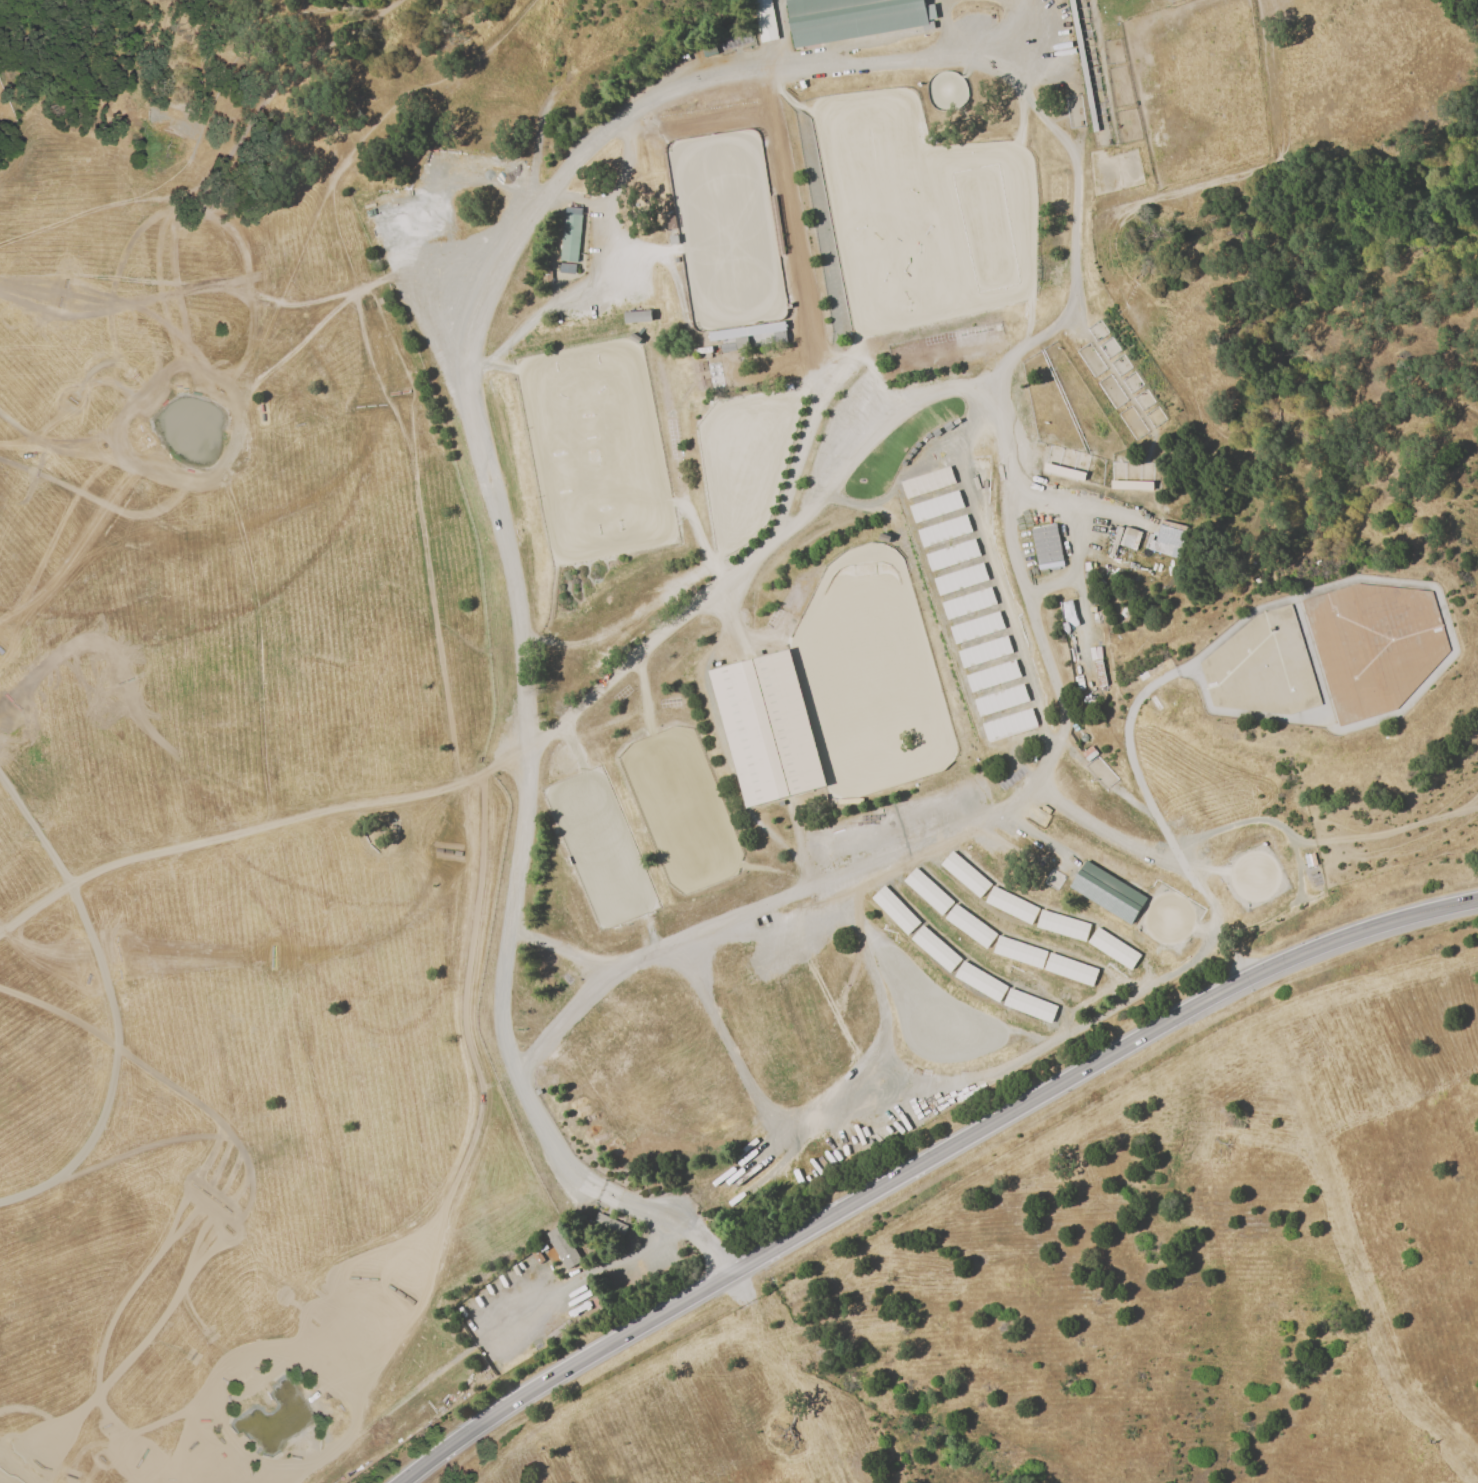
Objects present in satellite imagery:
building: (823, 5)
building: (794, 7)
building: (786, 9)
building: (861, 20)
building: (763, 21)
building: (801, 27)
road: (1001, 32)
building: (801, 37)
building: (1081, 65)
building: (672, 69)
building: (584, 135)
building: (689, 135)
road: (582, 196)
building: (400, 210)
building: (408, 231)
building: (669, 233)
building: (827, 237)
building: (570, 240)
building: (830, 263)
building: (566, 270)
road: (596, 274)
building: (808, 277)
building: (814, 313)
building: (634, 318)
building: (745, 333)
building: (632, 339)
building: (726, 349)
building: (703, 352)
building: (881, 411)
building: (874, 416)
building: (869, 422)
building: (673, 446)
building: (1131, 484)
building: (928, 486)
road: (1060, 504)
building: (935, 508)
building: (941, 530)
building: (1130, 540)
building: (1115, 542)
building: (1165, 542)
road: (503, 547)
building: (1046, 548)
building: (949, 551)
road: (1073, 567)
building: (958, 573)
building: (965, 594)
building: (1066, 607)
road: (1081, 609)
building: (971, 616)
building: (980, 638)
building: (1373, 647)
building: (987, 660)
building: (1261, 668)
building: (1143, 678)
building: (994, 682)
road: (1053, 685)
building: (1001, 703)
building: (1003, 726)
building: (764, 731)
road: (542, 734)
building: (1088, 757)
building: (841, 803)
road: (1161, 828)
road: (1102, 829)
building: (972, 884)
building: (1100, 893)
building: (936, 899)
building: (1224, 901)
building: (901, 915)
building: (1028, 916)
building: (1153, 925)
building: (1097, 942)
road: (557, 947)
building: (1008, 947)
building: (949, 961)
building: (1070, 970)
building: (1008, 996)
road: (924, 1163)
building: (609, 1226)
building: (563, 1246)
road: (592, 1271)

